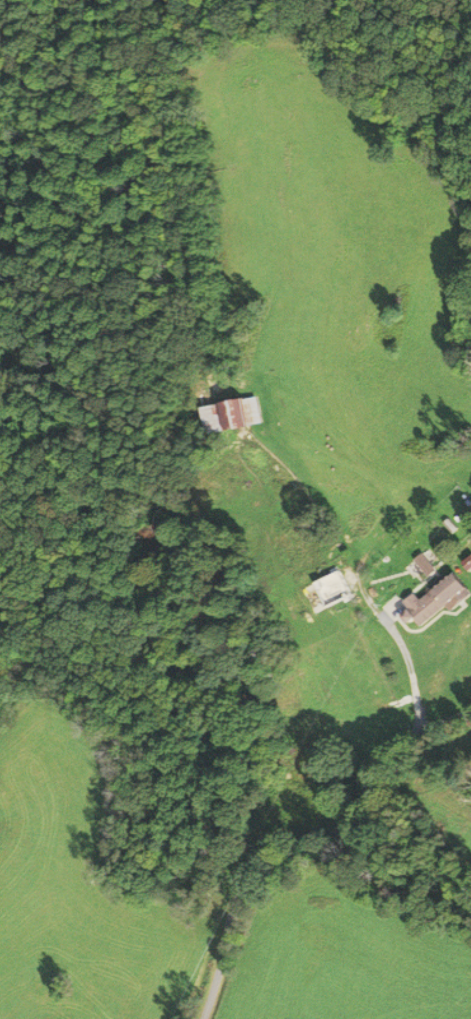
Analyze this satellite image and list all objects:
building: (232, 415)
building: (440, 598)
road: (288, 816)

